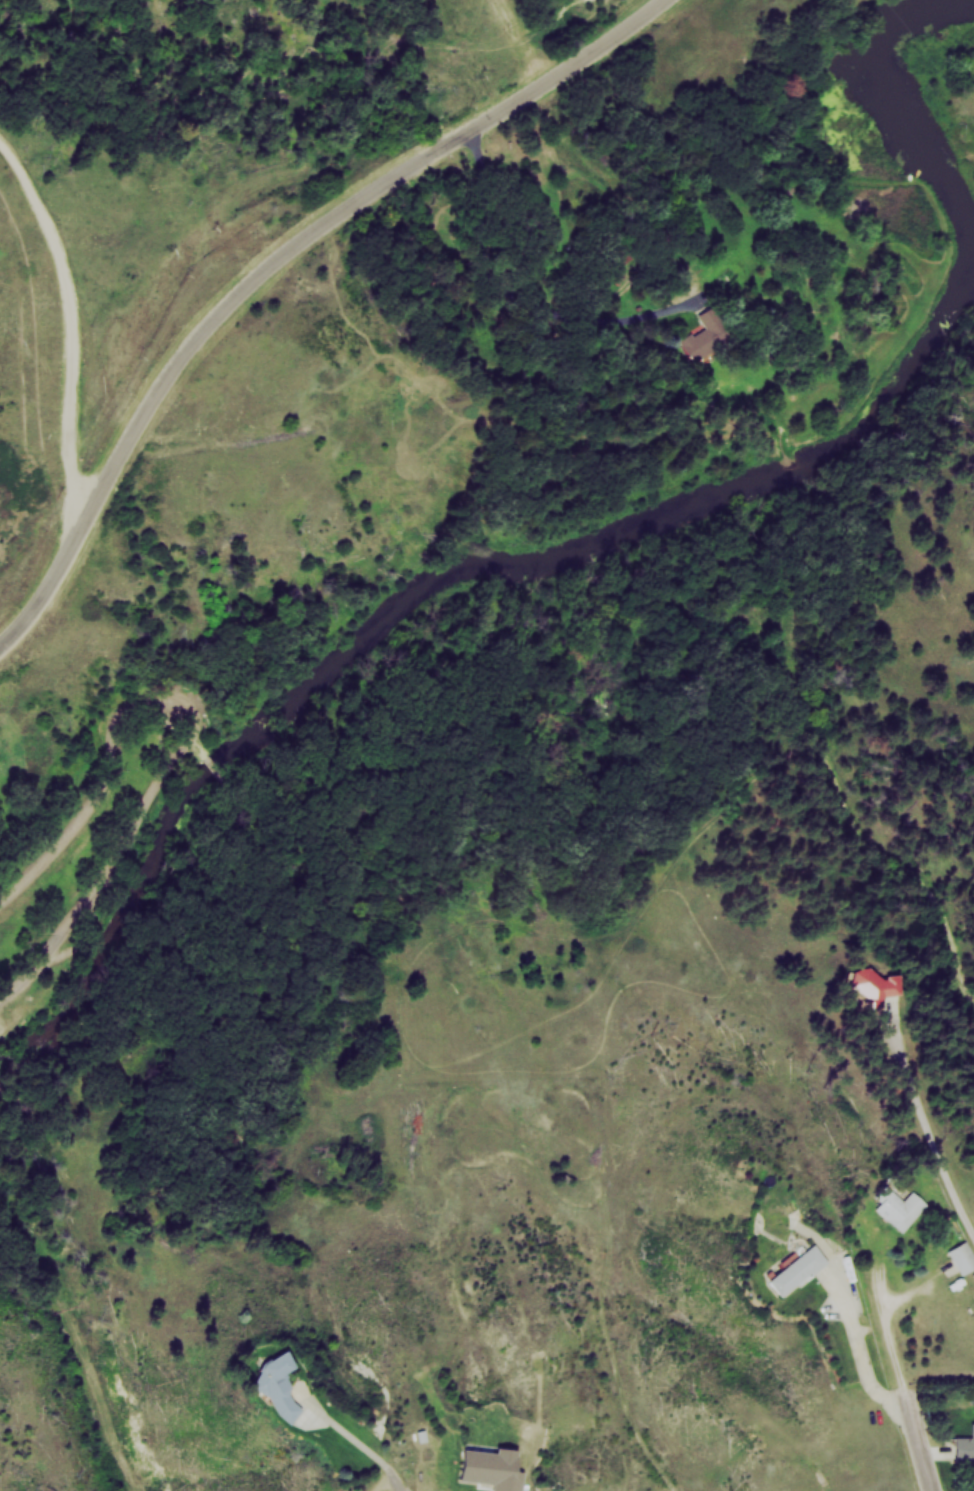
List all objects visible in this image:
river: (905, 114)
road: (276, 262)
road: (551, 282)
road: (67, 331)
building: (705, 337)
river: (436, 587)
road: (179, 738)
building: (855, 988)
road: (927, 1128)
building: (899, 1208)
building: (963, 1257)
building: (792, 1271)
road: (895, 1344)
road: (862, 1345)
building: (257, 1391)
road: (922, 1444)
building: (964, 1447)
building: (493, 1470)
road: (405, 1489)

